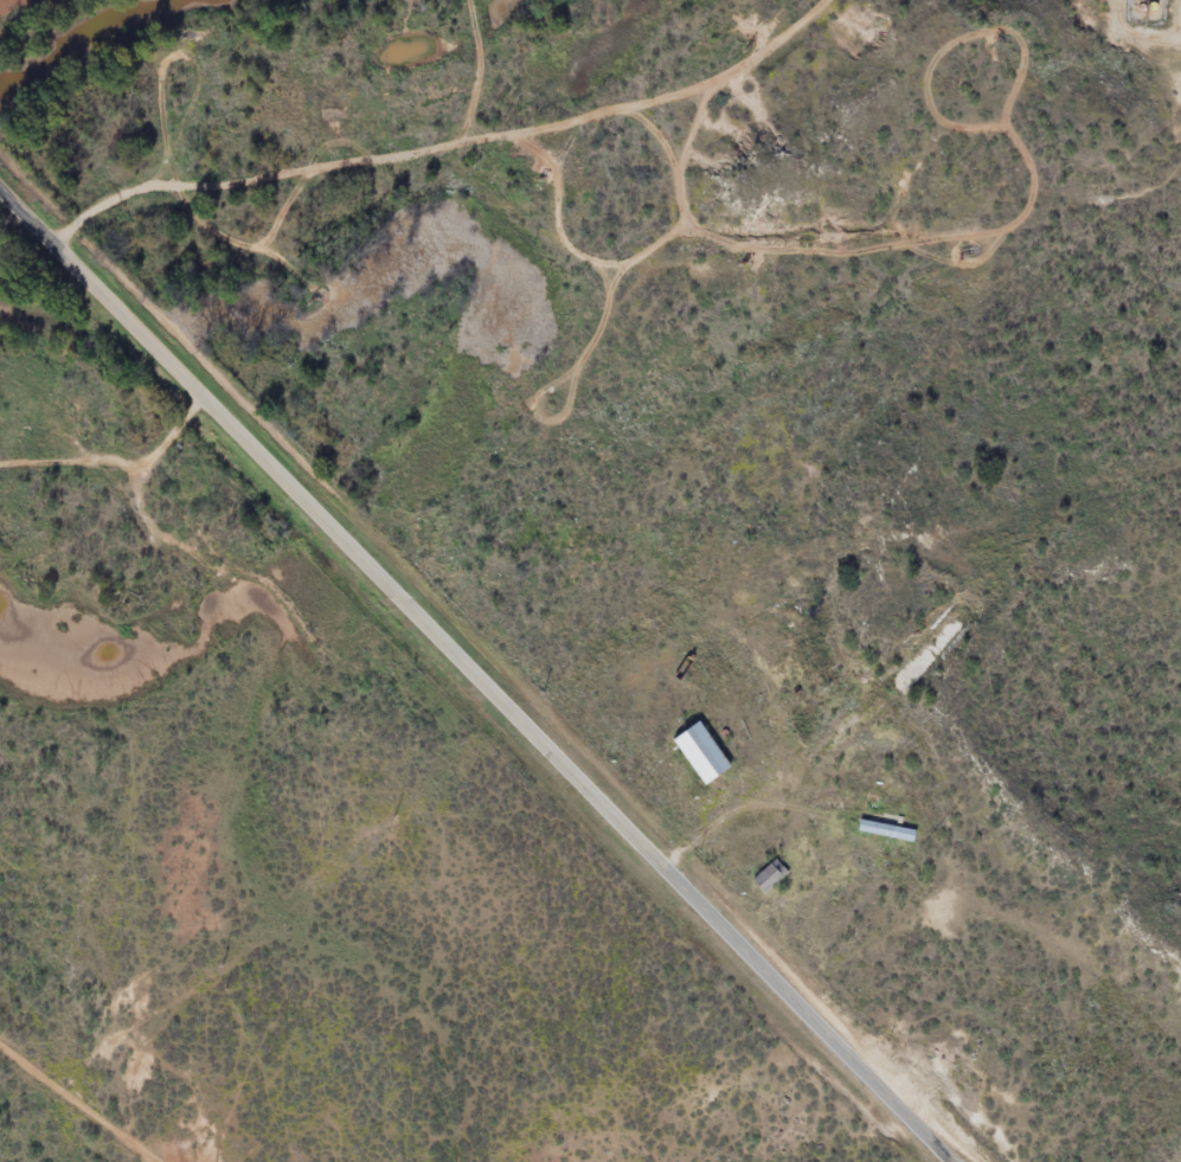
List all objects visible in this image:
road: (473, 676)
building: (701, 753)
building: (886, 830)
building: (770, 877)

